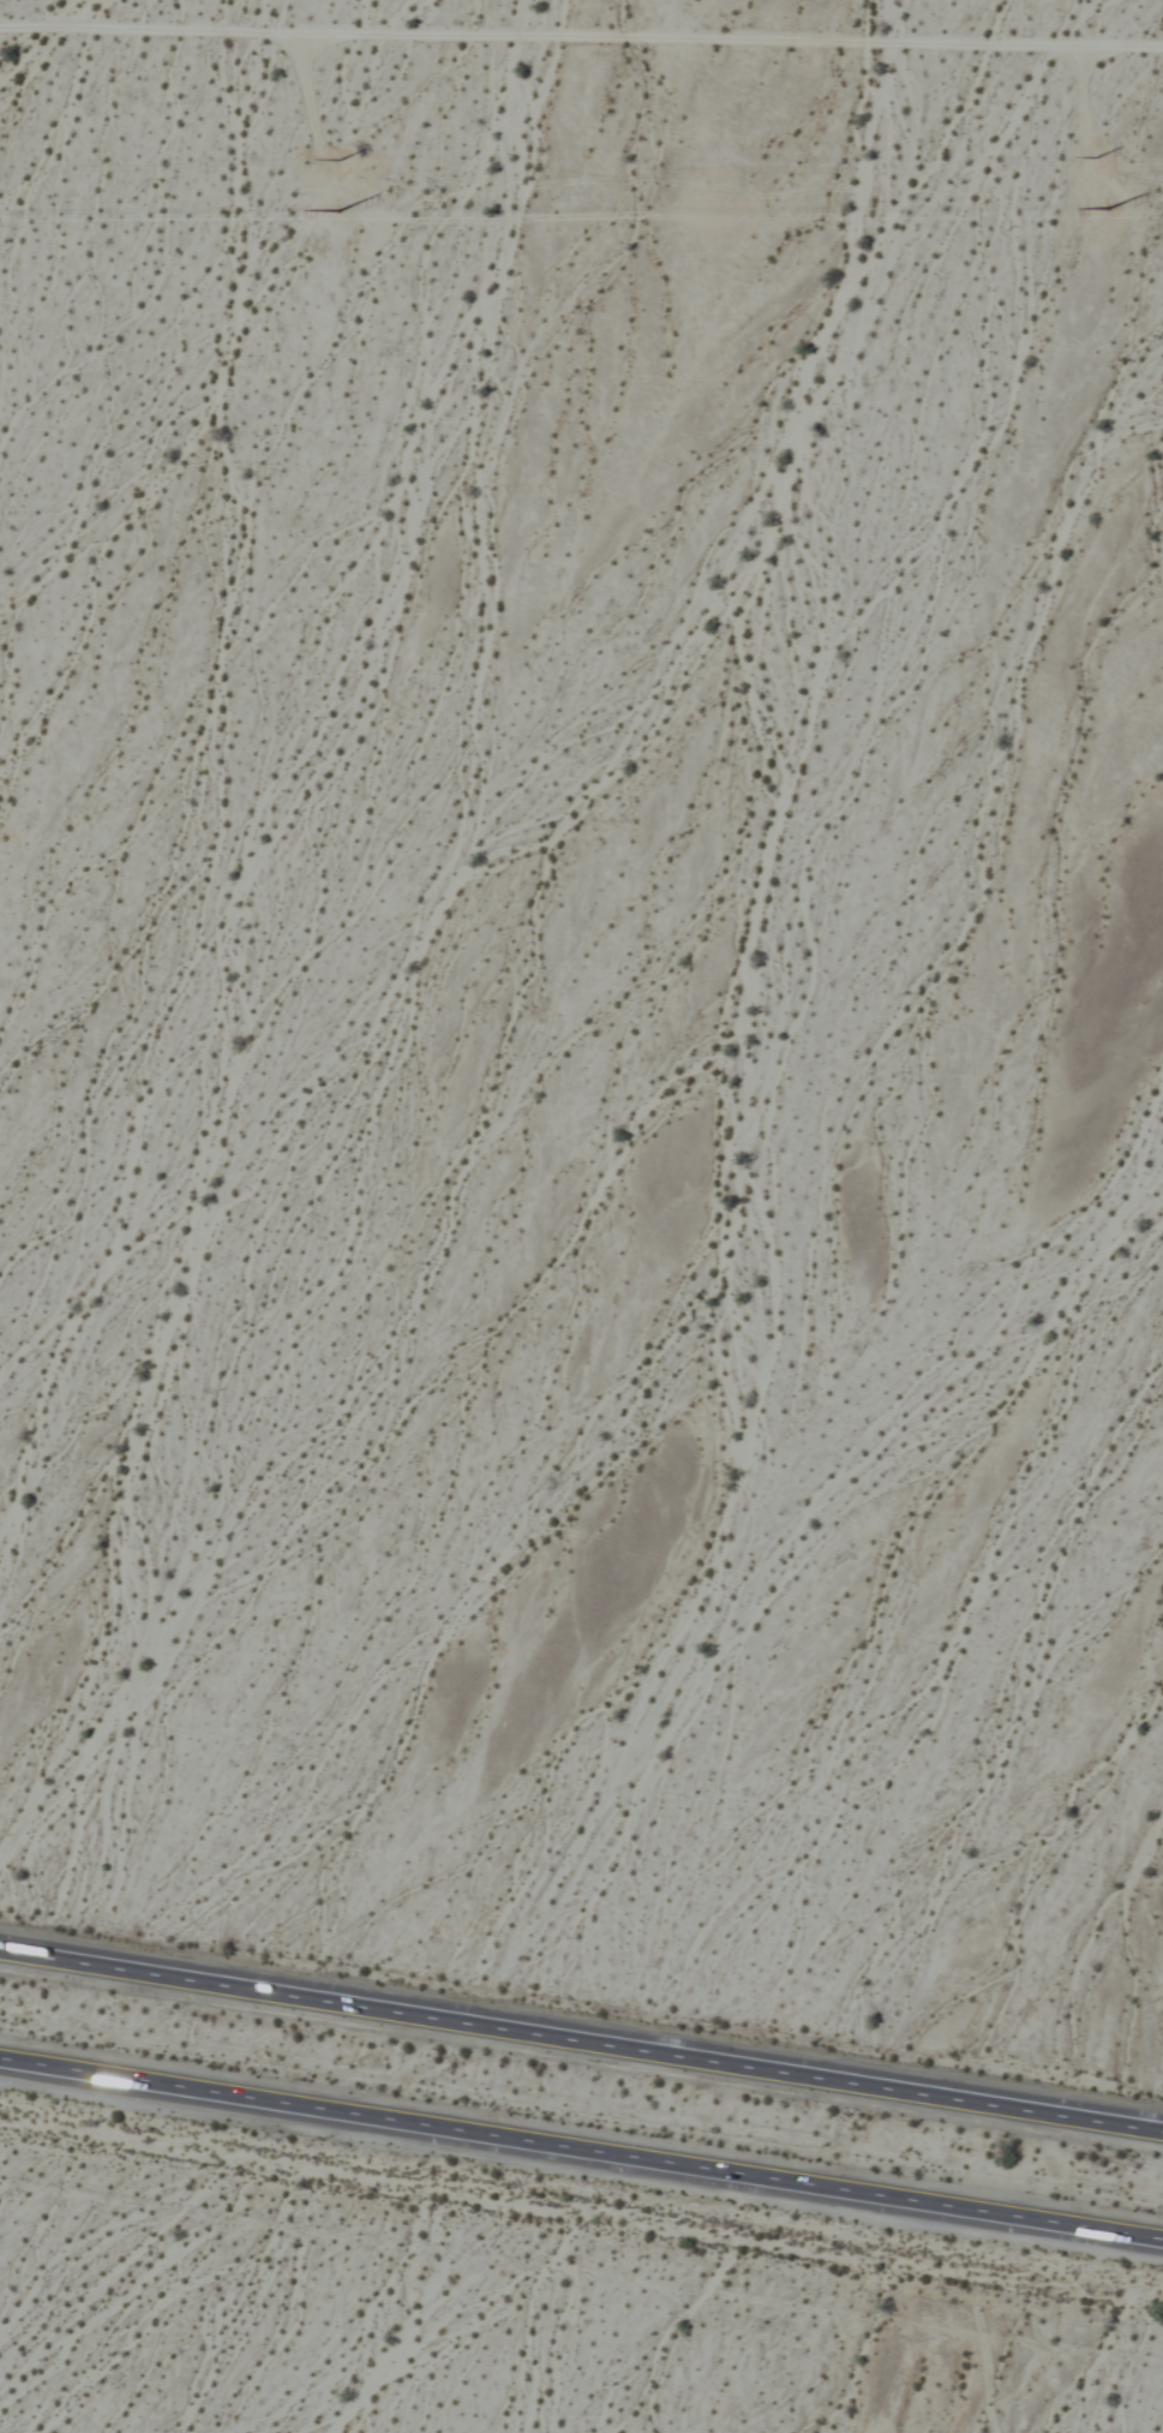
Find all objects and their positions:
road: (581, 2037)
road: (581, 2156)

